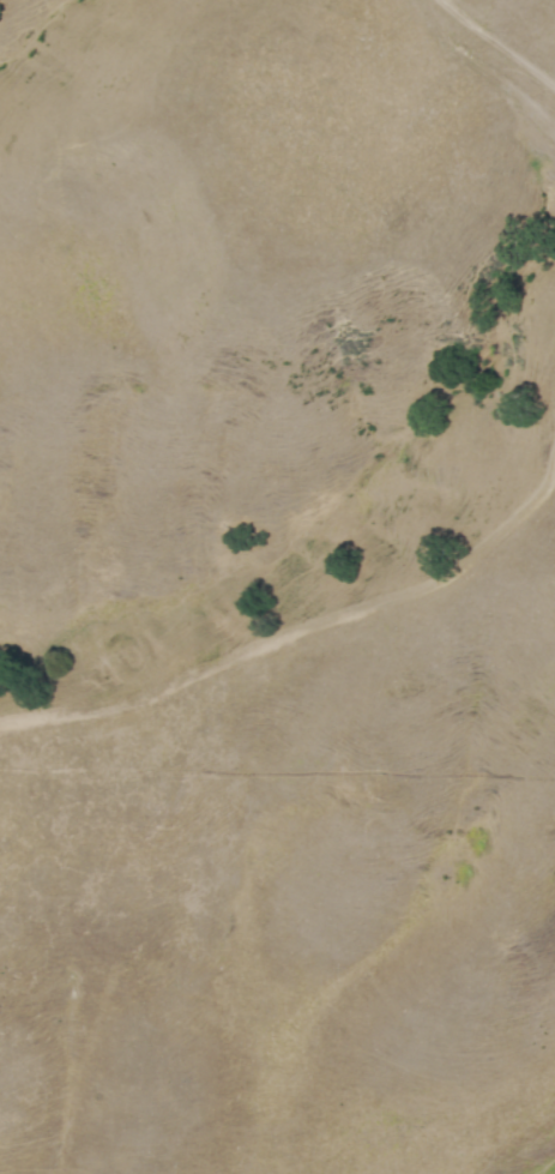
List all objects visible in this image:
road: (496, 43)
road: (487, 68)
road: (292, 636)

